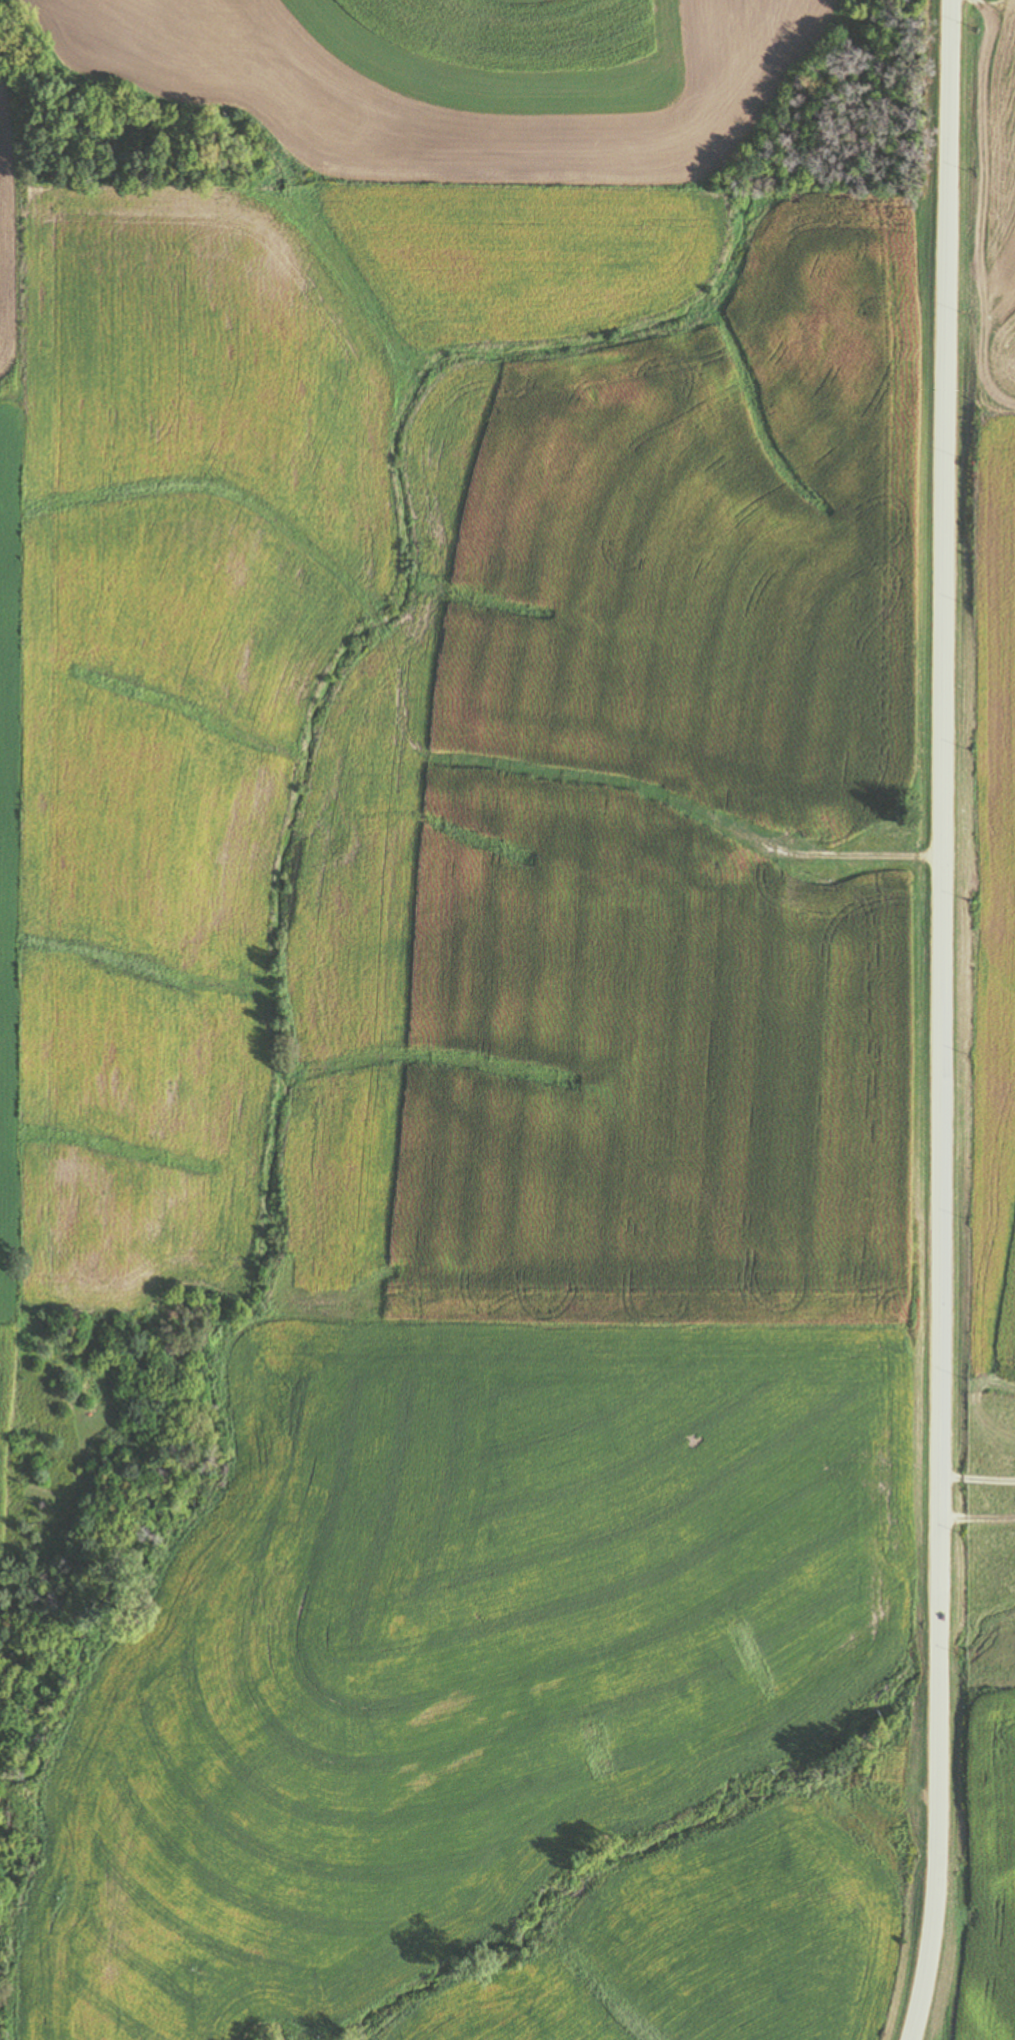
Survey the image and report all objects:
road: (937, 1021)
road: (975, 1479)

